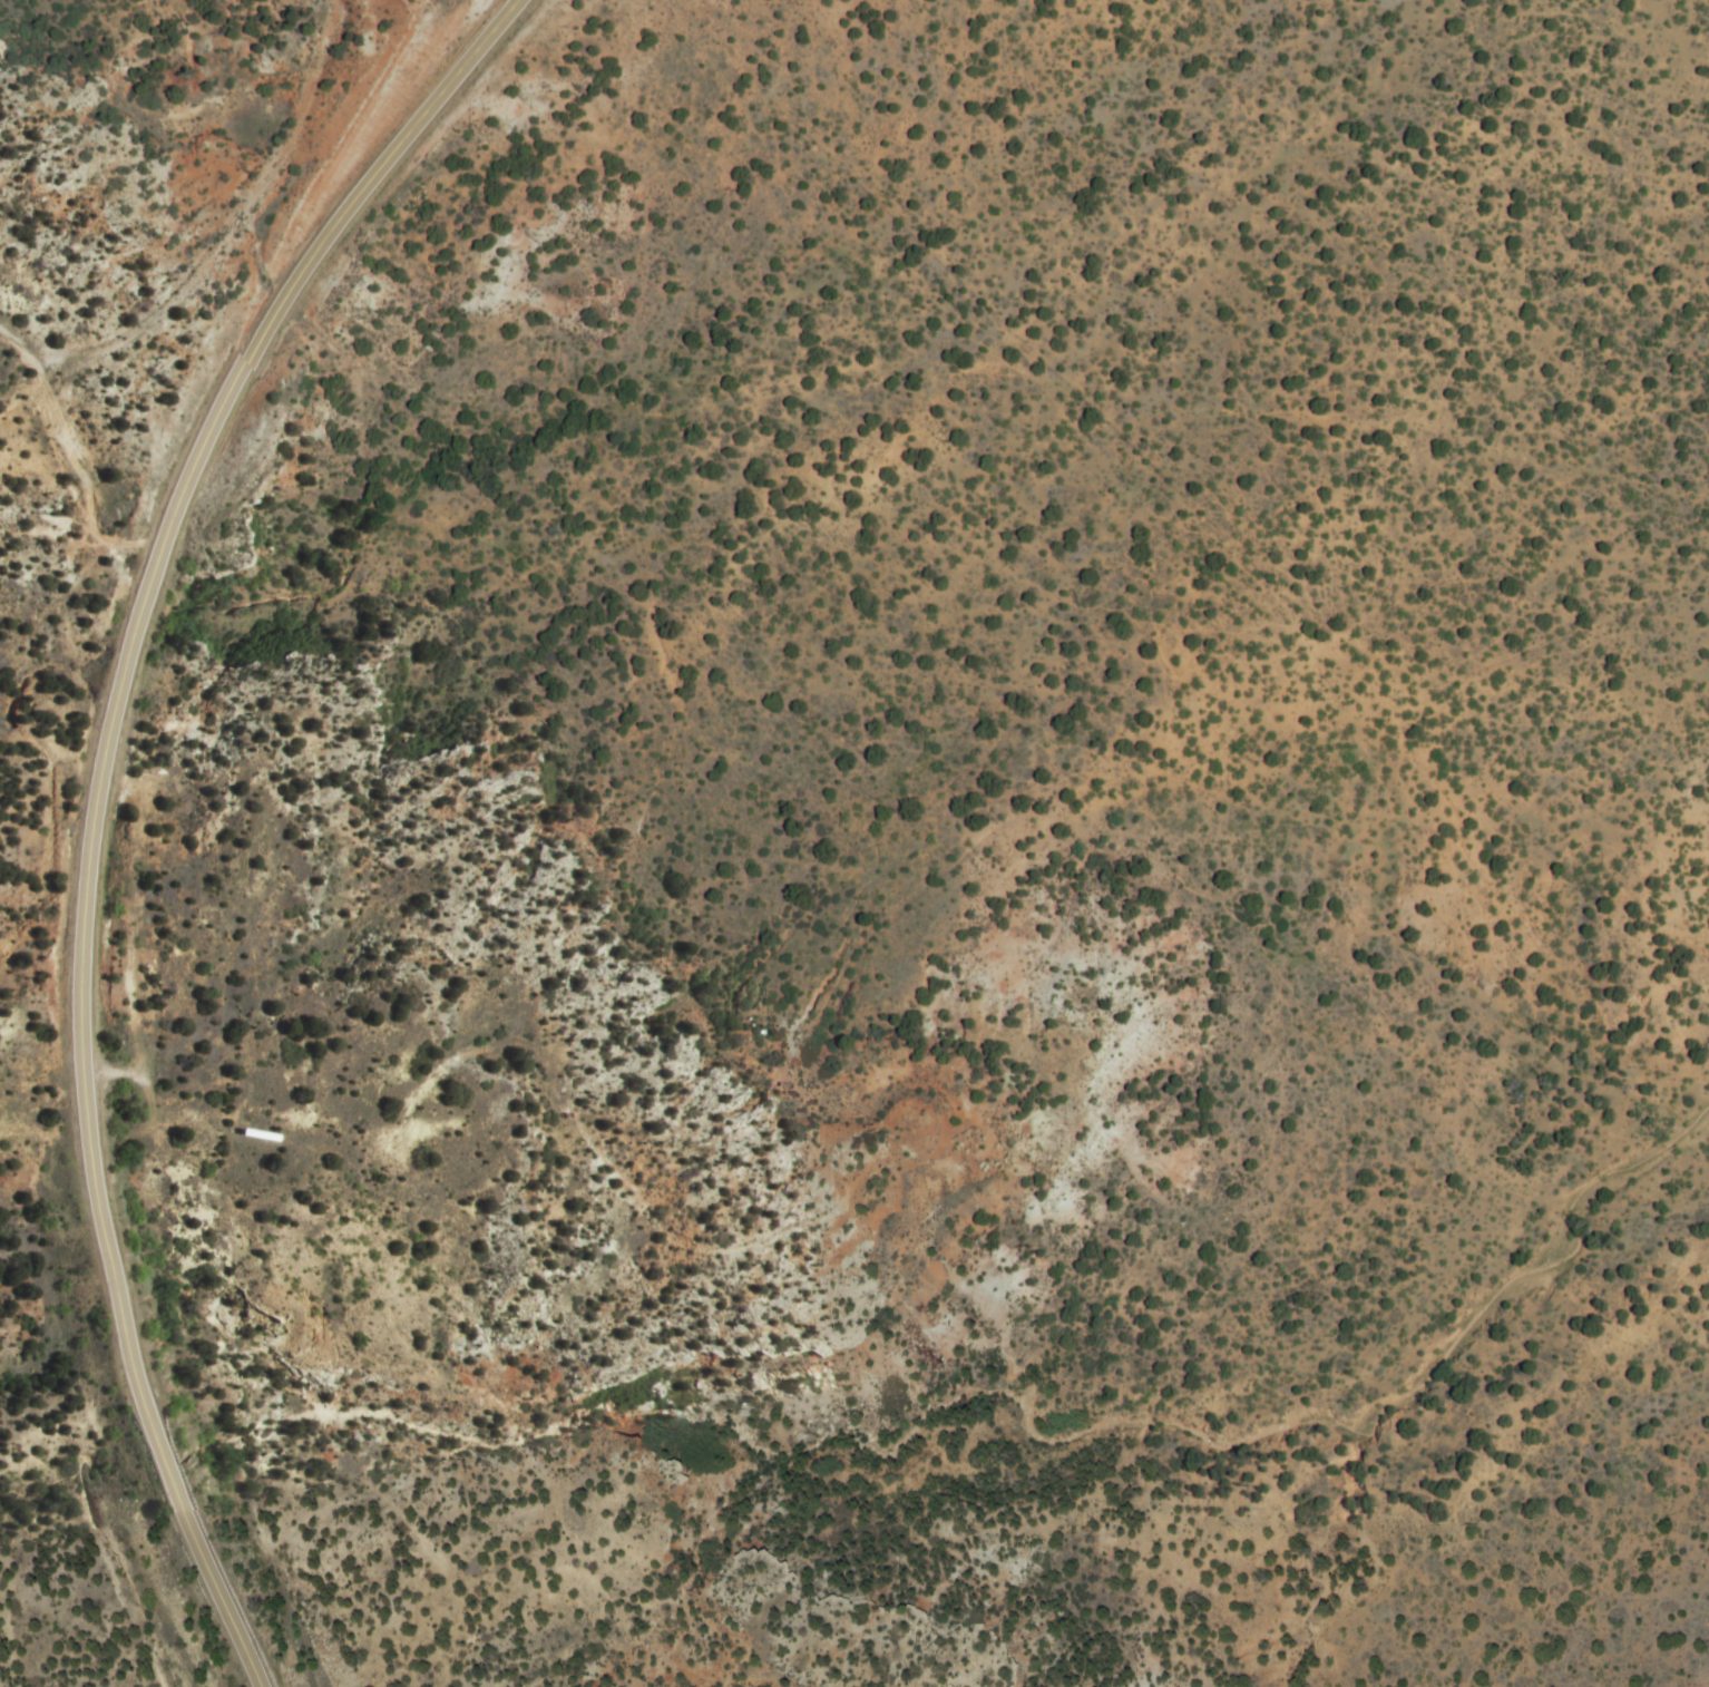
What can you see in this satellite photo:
road: (221, 245)
road: (99, 800)

